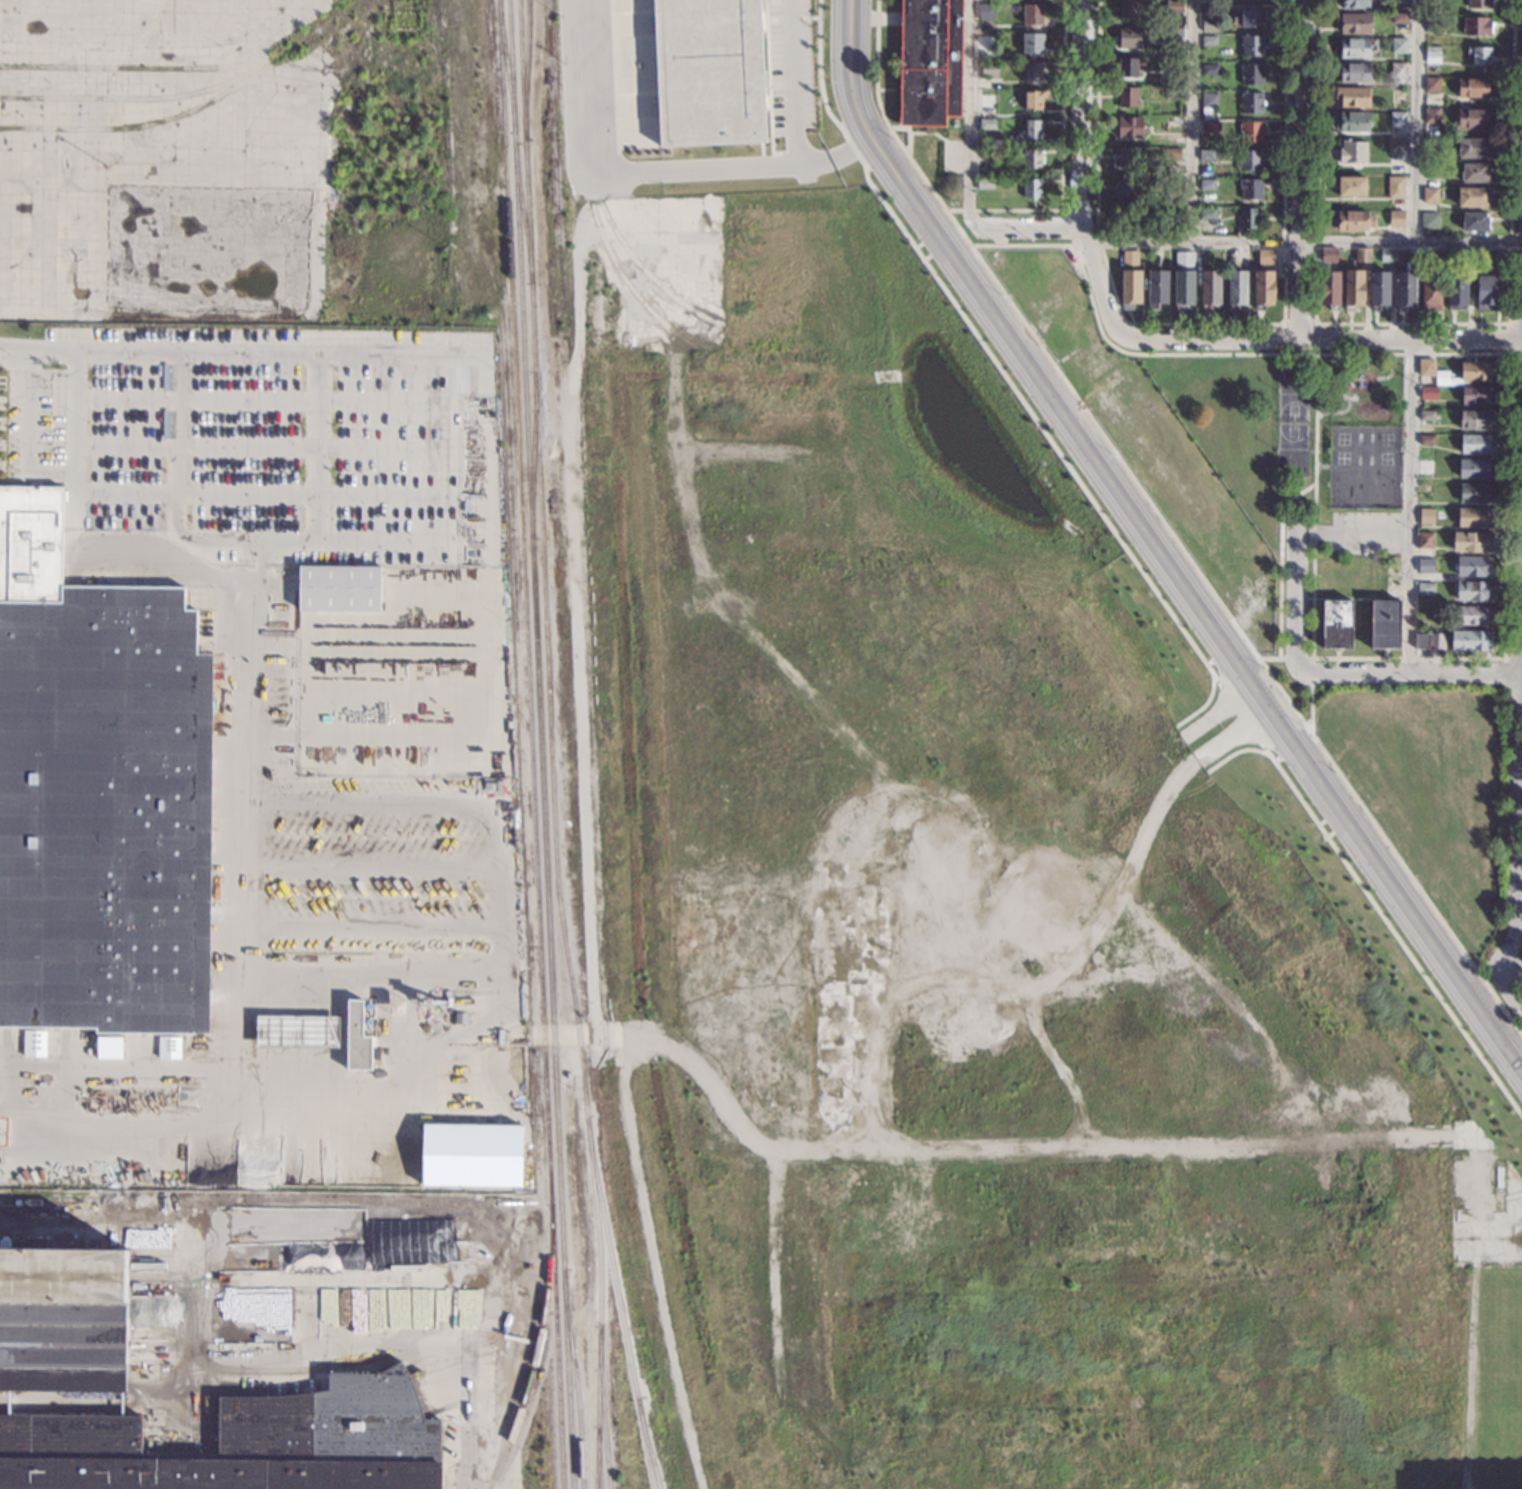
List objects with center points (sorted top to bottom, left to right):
building: (1399, 2)
building: (1477, 3)
building: (1355, 4)
building: (1173, 7)
building: (1127, 9)
building: (986, 11)
building: (1031, 15)
building: (1248, 19)
building: (1399, 19)
building: (1352, 24)
building: (1432, 24)
building: (1209, 25)
building: (1475, 26)
building: (1128, 38)
building: (1174, 38)
building: (1207, 41)
building: (1031, 43)
building: (1251, 46)
building: (1398, 46)
building: (1356, 47)
building: (1431, 55)
building: (1477, 56)
building: (928, 61)
road: (849, 65)
railway: (506, 66)
building: (1126, 67)
railway: (135, 68)
railway: (526, 68)
building: (987, 68)
building: (1208, 70)
building: (707, 71)
building: (1032, 71)
building: (1397, 71)
building: (1354, 73)
building: (1251, 74)
road: (792, 82)
building: (1431, 84)
building: (1472, 88)
building: (1170, 93)
building: (1126, 97)
building: (1352, 97)
railway: (141, 98)
building: (1032, 99)
building: (986, 100)
building: (1207, 100)
building: (1250, 103)
road: (1080, 114)
road: (970, 115)
building: (1431, 116)
building: (1471, 119)
road: (1192, 120)
building: (1396, 120)
road: (1413, 120)
building: (1350, 122)
railway: (145, 124)
building: (986, 124)
building: (1126, 127)
building: (1209, 127)
building: (1031, 129)
building: (1249, 132)
building: (1396, 145)
building: (1430, 147)
building: (1473, 148)
building: (1351, 152)
building: (1171, 153)
building: (985, 155)
building: (1205, 155)
road: (838, 156)
building: (1125, 158)
building: (1030, 159)
building: (1248, 161)
road: (1306, 169)
building: (1431, 170)
road: (613, 173)
building: (1473, 173)
building: (982, 183)
building: (1204, 184)
building: (1030, 186)
building: (1170, 186)
building: (1350, 187)
building: (1123, 188)
building: (1393, 188)
building: (1248, 189)
building: (1428, 195)
building: (1470, 198)
road: (993, 210)
railway: (522, 212)
building: (1205, 214)
building: (1124, 217)
building: (1170, 218)
building: (1247, 219)
building: (1394, 219)
building: (1352, 221)
building: (1427, 221)
building: (1472, 222)
road: (1029, 228)
road: (1304, 239)
building: (1326, 254)
building: (1360, 254)
building: (1386, 255)
building: (1128, 256)
building: (1428, 257)
building: (1489, 257)
building: (1264, 258)
building: (1454, 258)
building: (1184, 260)
building: (1129, 286)
building: (1155, 286)
building: (1182, 287)
building: (1208, 287)
building: (1262, 287)
building: (1328, 287)
building: (1234, 288)
building: (1352, 288)
building: (1378, 288)
building: (1403, 289)
building: (1455, 289)
building: (1487, 292)
building: (1429, 295)
road: (1202, 324)
road: (1314, 324)
road: (1411, 324)
road: (1263, 337)
road: (1509, 338)
road: (416, 348)
building: (1422, 367)
building: (1476, 371)
road: (48, 375)
road: (1003, 375)
road: (1509, 382)
building: (1427, 392)
building: (1476, 395)
road: (264, 398)
building: (1426, 415)
road: (1314, 419)
building: (1475, 420)
parking lot: (252, 438)
building: (1425, 439)
building: (1474, 443)
road: (265, 447)
railway: (533, 454)
building: (1474, 468)
road: (50, 472)
road: (178, 484)
road: (1297, 493)
building: (1474, 493)
road: (265, 495)
road: (76, 501)
road: (1408, 506)
building: (1425, 516)
building: (1474, 517)
building: (1423, 540)
building: (1470, 541)
road: (385, 544)
building: (1424, 565)
building: (1471, 566)
road: (146, 577)
building: (339, 588)
building: (1424, 588)
road: (1279, 590)
building: (1472, 590)
road: (1193, 599)
road: (1295, 604)
building: (1472, 614)
road: (1233, 624)
building: (1335, 624)
building: (1384, 624)
building: (1428, 640)
building: (1469, 640)
road: (1224, 651)
road: (1309, 658)
road: (1512, 658)
road: (253, 663)
road: (1409, 673)
road: (1310, 710)
road: (1218, 711)
road: (1239, 712)
road: (1234, 733)
railway: (530, 744)
railway: (540, 744)
railway: (550, 745)
road: (1291, 747)
building: (99, 793)
parking lot: (387, 865)
road: (1519, 867)
road: (371, 868)
road: (498, 876)
road: (1374, 904)
road: (892, 995)
road: (1519, 1007)
road: (497, 1011)
road: (554, 1033)
building: (357, 1037)
building: (34, 1043)
building: (109, 1046)
building: (169, 1047)
road: (1058, 1066)
road: (880, 1138)
road: (1129, 1148)
building: (472, 1155)
road: (157, 1218)
railway: (620, 1303)
building: (63, 1320)
road: (402, 1338)
railway: (535, 1352)
railway: (575, 1379)
road: (164, 1384)
road: (8, 1403)
road: (75, 1403)
road: (121, 1404)
railway: (602, 1409)
road: (200, 1429)
railway: (648, 1443)
building: (241, 1445)
railway: (598, 1458)

